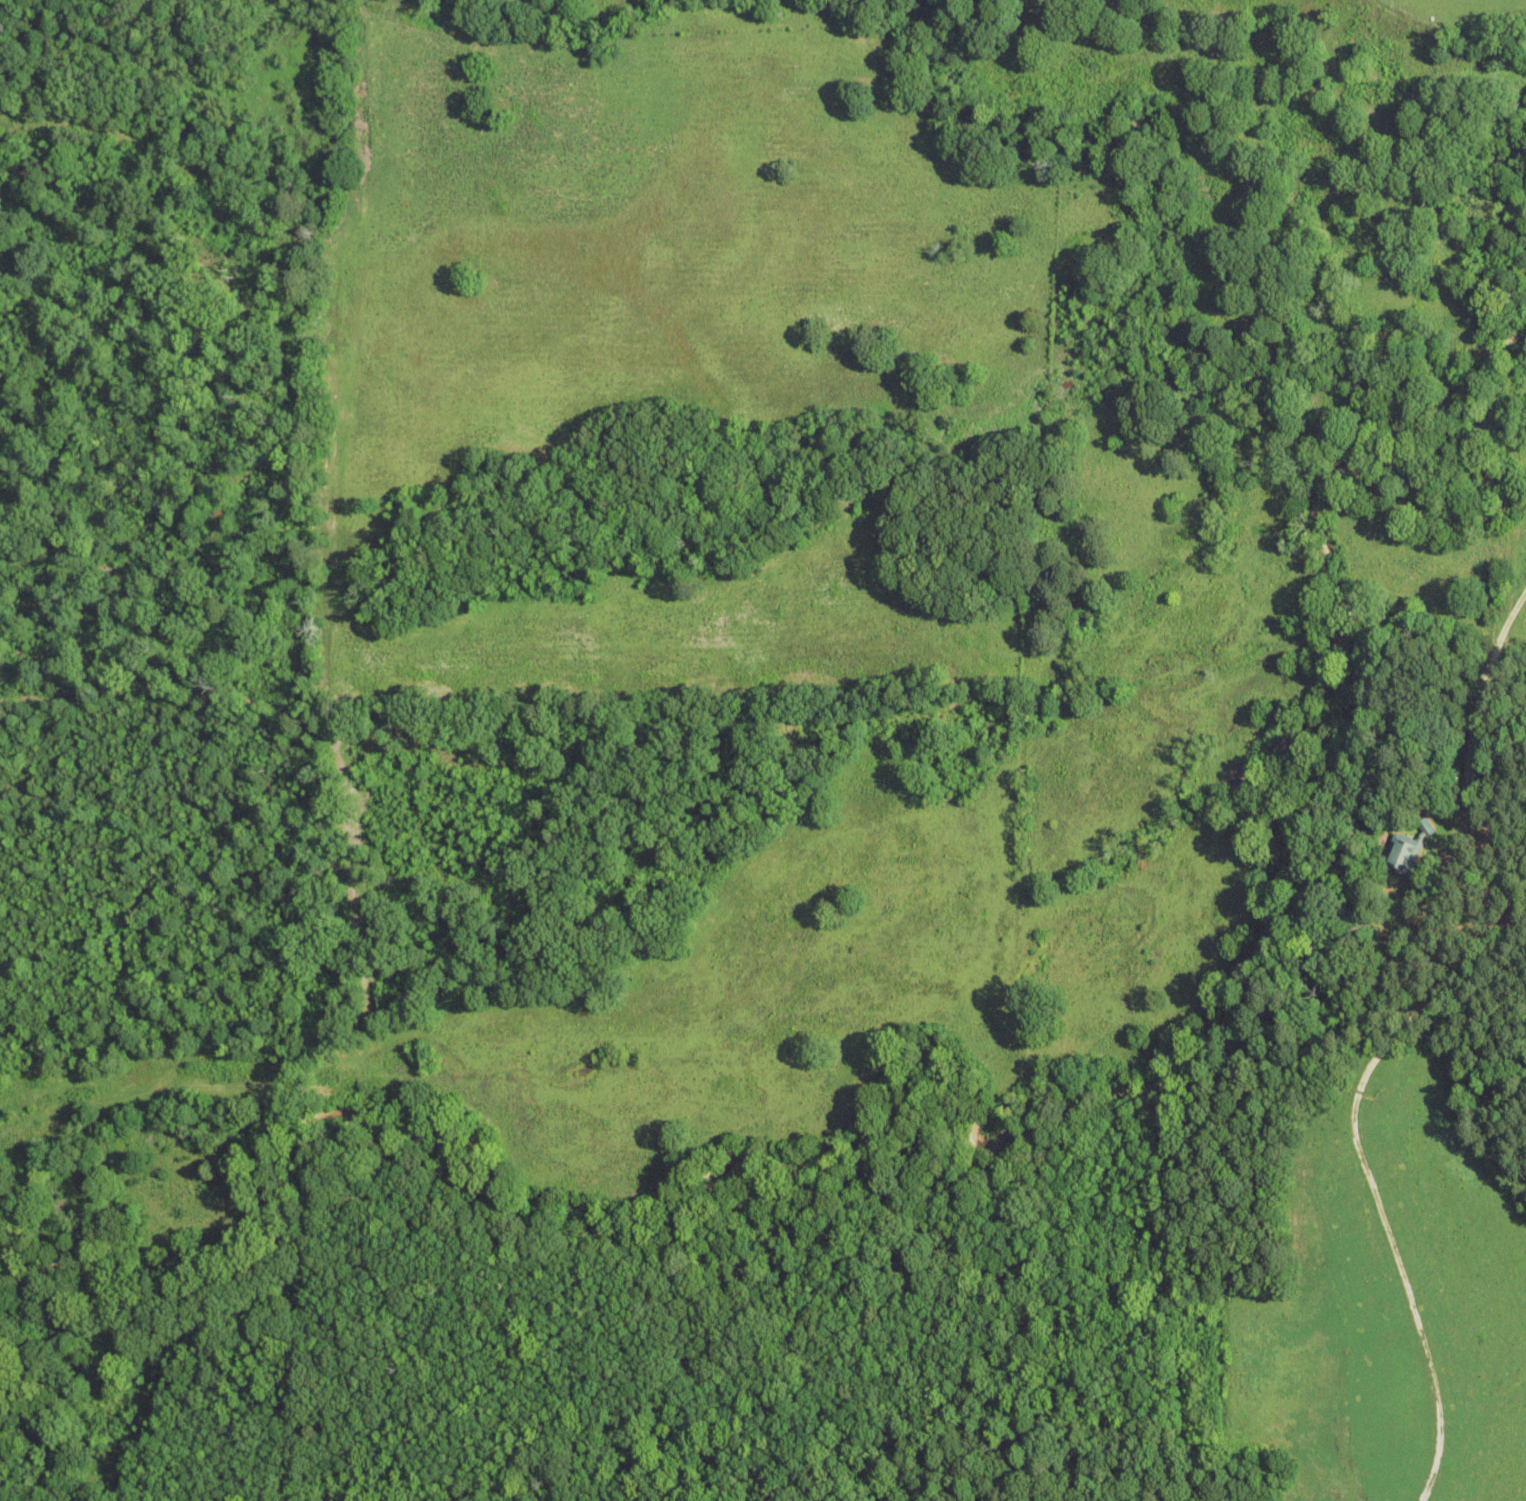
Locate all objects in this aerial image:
building: (1398, 855)

